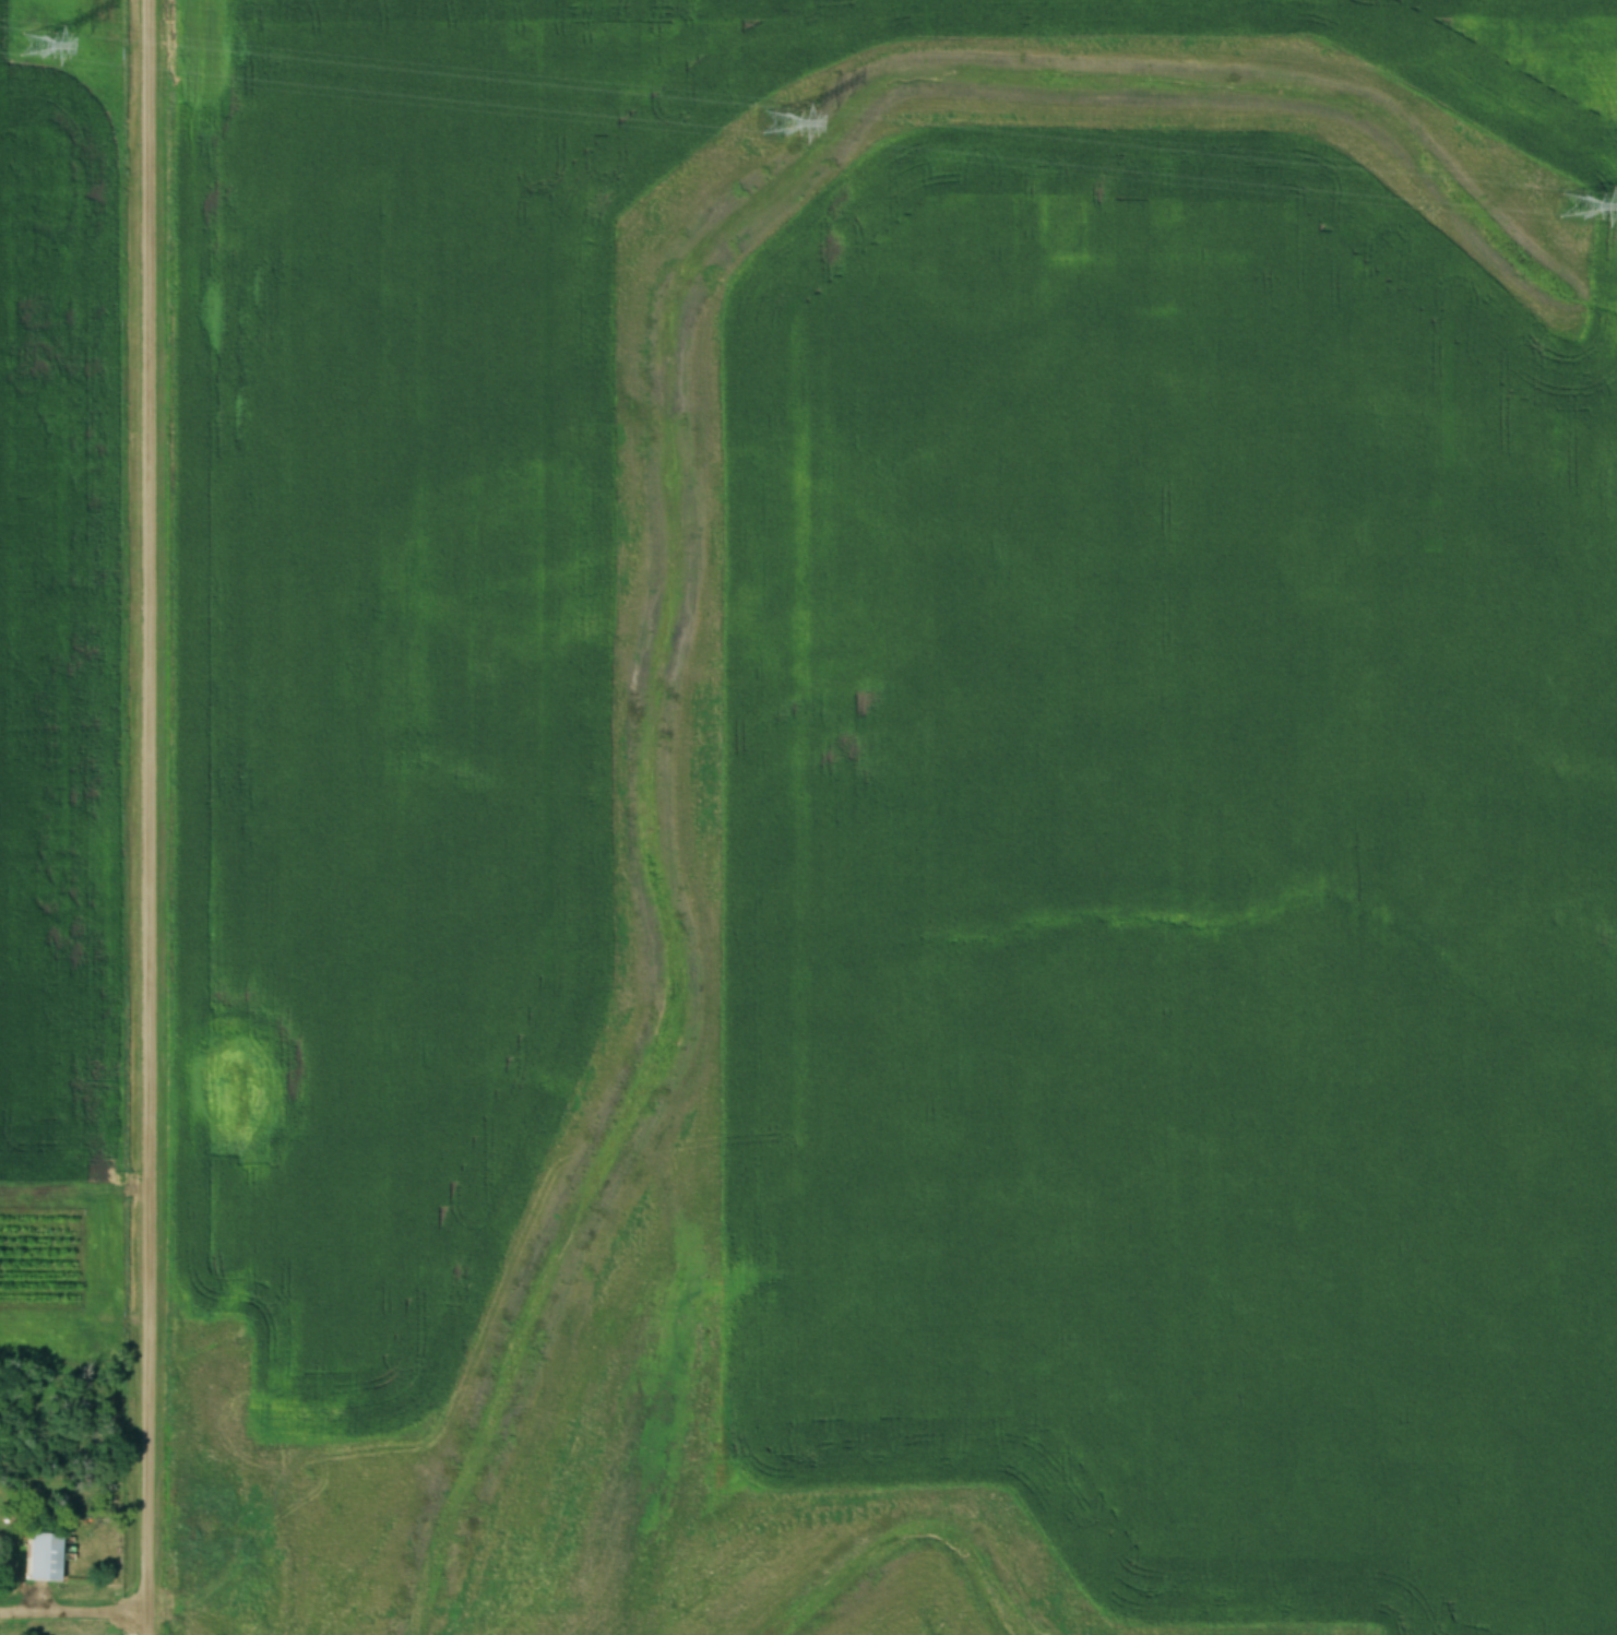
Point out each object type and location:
power tower: (22, 35)
power tower: (771, 125)
power tower: (1570, 197)
road: (144, 817)
building: (43, 1557)
road: (72, 1612)

